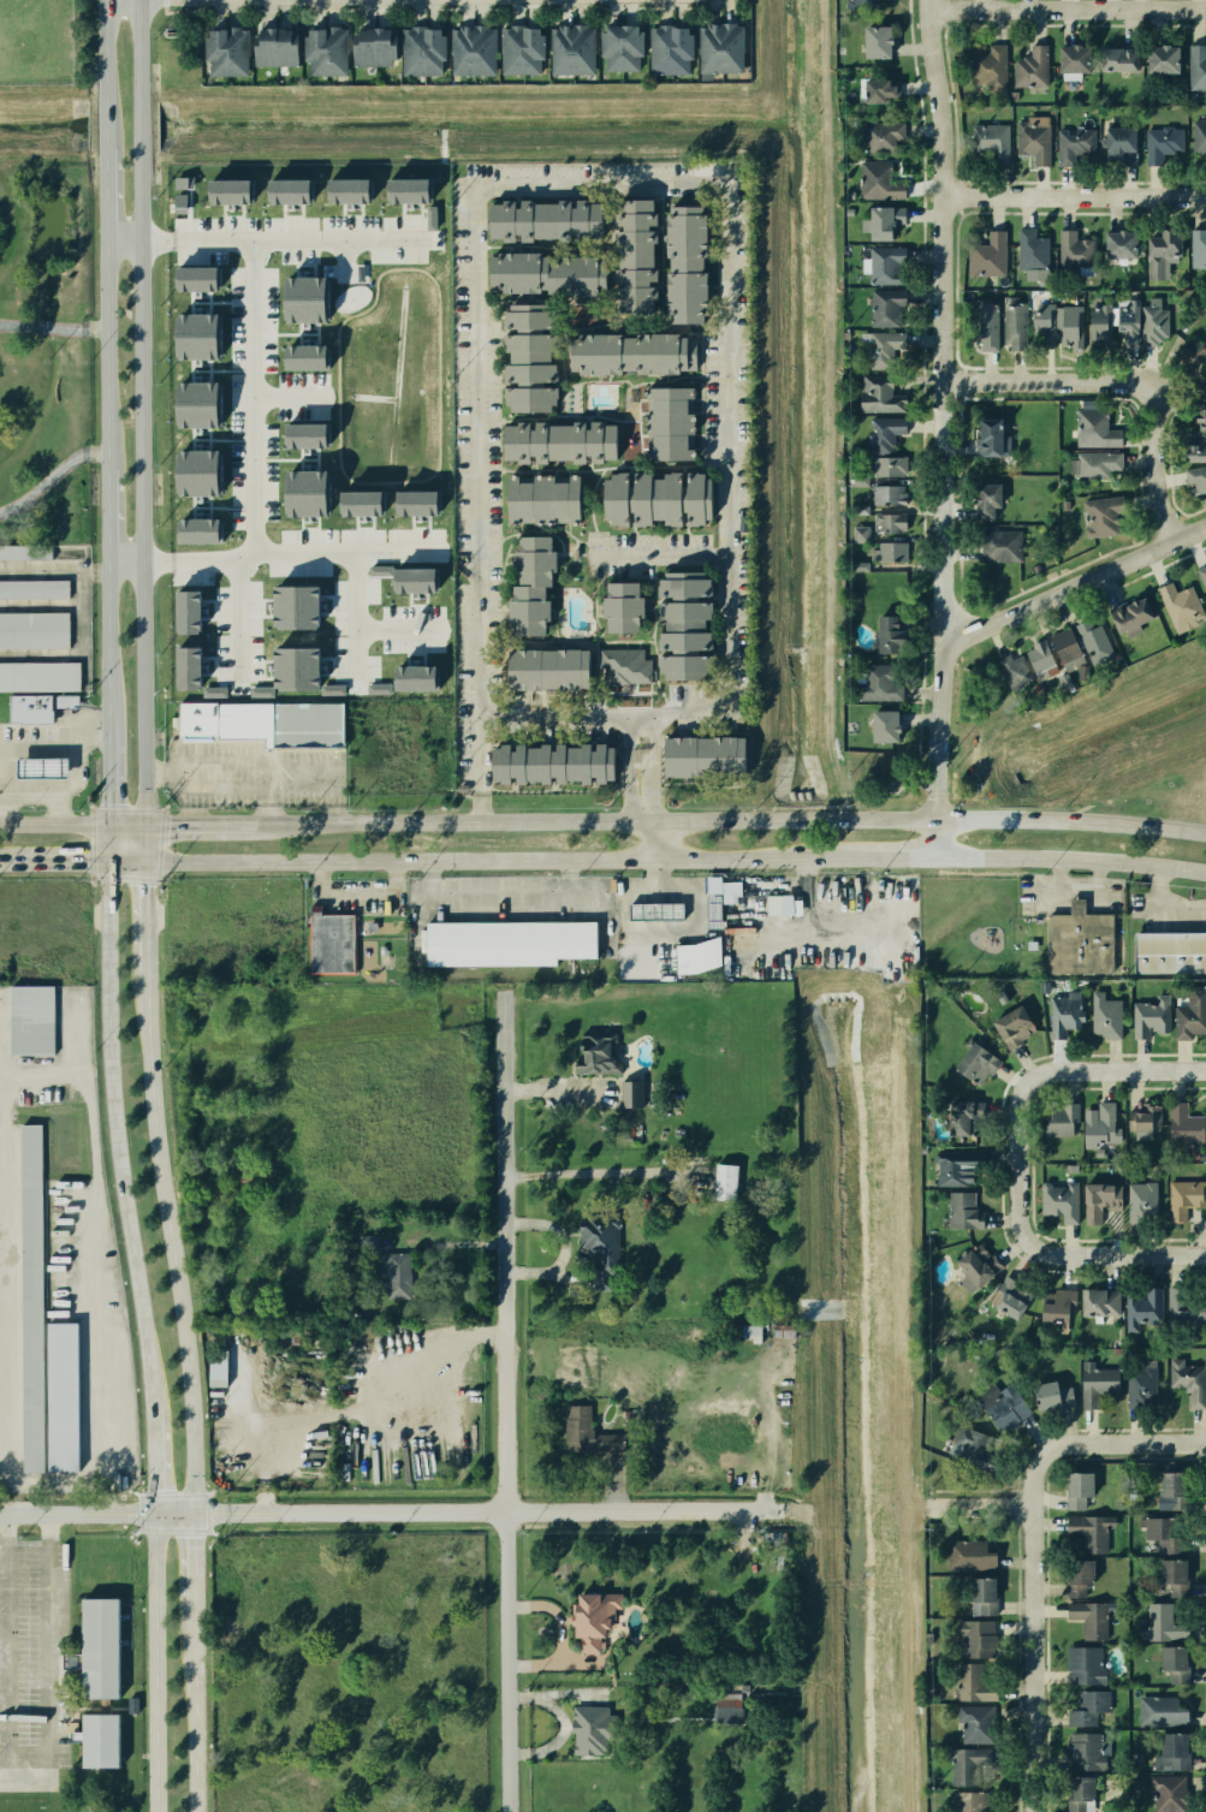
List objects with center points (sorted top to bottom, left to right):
road: (411, 0)
road: (105, 1)
road: (246, 1)
road: (338, 1)
building: (863, 4)
road: (1071, 7)
building: (874, 41)
building: (272, 46)
building: (619, 46)
building: (370, 47)
road: (139, 48)
building: (322, 48)
building: (420, 48)
building: (470, 48)
building: (667, 48)
building: (719, 48)
building: (570, 49)
road: (105, 51)
building: (221, 51)
building: (517, 51)
building: (1165, 65)
building: (1196, 65)
building: (988, 73)
building: (1035, 77)
building: (1077, 78)
building: (1123, 79)
building: (879, 87)
road: (139, 123)
road: (105, 124)
building: (880, 136)
building: (1198, 139)
building: (1038, 143)
building: (996, 144)
building: (1166, 149)
building: (1077, 150)
building: (1119, 152)
building: (874, 178)
road: (724, 183)
building: (230, 191)
building: (290, 191)
building: (349, 191)
building: (408, 191)
road: (105, 194)
road: (1077, 195)
building: (545, 216)
building: (430, 218)
building: (880, 220)
road: (123, 236)
road: (329, 240)
building: (1198, 248)
building: (1123, 250)
building: (634, 255)
building: (1076, 255)
building: (1164, 259)
building: (1032, 260)
building: (685, 262)
building: (988, 265)
building: (883, 267)
building: (545, 269)
building: (197, 279)
building: (1094, 286)
building: (304, 299)
building: (886, 307)
road: (52, 325)
building: (1100, 327)
building: (1131, 327)
building: (1047, 328)
building: (1160, 328)
building: (1074, 329)
building: (985, 331)
building: (1017, 331)
building: (197, 337)
building: (883, 347)
road: (105, 351)
building: (1192, 352)
building: (522, 354)
building: (629, 355)
building: (305, 357)
road: (1047, 381)
building: (1202, 386)
building: (881, 399)
road: (255, 400)
building: (197, 404)
road: (941, 409)
building: (1201, 420)
building: (669, 421)
building: (1099, 432)
building: (305, 435)
building: (554, 435)
building: (887, 438)
building: (990, 439)
building: (1009, 447)
building: (1194, 448)
building: (1101, 465)
road: (1154, 467)
building: (889, 470)
building: (198, 473)
road: (51, 474)
building: (861, 477)
building: (1195, 480)
road: (142, 487)
building: (305, 493)
building: (650, 497)
building: (536, 499)
building: (890, 500)
building: (361, 503)
building: (416, 503)
building: (987, 504)
road: (106, 511)
road: (1186, 513)
park: (1192, 513)
building: (1109, 519)
building: (198, 530)
building: (884, 530)
road: (388, 541)
building: (1000, 548)
building: (25, 553)
road: (661, 553)
road: (124, 556)
building: (893, 556)
road: (356, 559)
building: (380, 570)
building: (1201, 574)
building: (415, 580)
building: (529, 583)
road: (1075, 587)
building: (35, 589)
building: (1178, 602)
building: (620, 606)
building: (297, 607)
building: (190, 612)
building: (1127, 612)
road: (237, 614)
building: (683, 624)
building: (35, 630)
building: (881, 630)
road: (106, 637)
building: (1092, 637)
building: (1063, 648)
building: (623, 663)
building: (1042, 663)
building: (547, 665)
building: (1012, 667)
building: (190, 669)
building: (297, 669)
building: (41, 677)
building: (415, 677)
building: (874, 681)
building: (67, 701)
building: (28, 707)
building: (1, 708)
building: (192, 720)
building: (305, 724)
building: (879, 724)
road: (16, 744)
building: (699, 753)
building: (548, 759)
gas station: (36, 766)
building: (43, 767)
road: (477, 771)
road: (106, 772)
road: (647, 772)
road: (75, 773)
road: (221, 786)
road: (1137, 788)
road: (47, 794)
road: (928, 819)
road: (72, 826)
traffic signals: (106, 826)
traffic signals: (144, 826)
road: (197, 826)
road: (451, 826)
road: (935, 838)
road: (144, 844)
road: (652, 845)
road: (1070, 859)
road: (896, 860)
road: (61, 863)
traffic signals: (107, 863)
traffic signals: (144, 863)
road: (7, 865)
road: (481, 865)
road: (357, 890)
road: (499, 892)
building: (783, 905)
building: (650, 909)
building: (709, 911)
road: (144, 926)
building: (1075, 938)
building: (503, 943)
building: (329, 944)
building: (1166, 953)
building: (696, 958)
building: (1190, 1012)
building: (1104, 1015)
building: (1149, 1015)
building: (1063, 1016)
building: (31, 1021)
building: (1010, 1026)
building: (593, 1042)
building: (972, 1063)
road: (1079, 1068)
building: (629, 1093)
building: (1143, 1117)
road: (112, 1118)
building: (952, 1119)
building: (1057, 1119)
building: (1098, 1121)
building: (1183, 1124)
building: (953, 1171)
building: (242, 1174)
building: (719, 1182)
building: (1186, 1198)
building: (1058, 1202)
building: (1140, 1204)
building: (1103, 1206)
building: (960, 1211)
building: (369, 1243)
road: (171, 1250)
building: (599, 1252)
road: (1077, 1253)
building: (976, 1263)
building: (412, 1271)
building: (1006, 1296)
building: (1182, 1299)
building: (1056, 1306)
building: (1143, 1307)
building: (1098, 1308)
road: (102, 1325)
building: (748, 1332)
building: (41, 1338)
building: (218, 1368)
building: (1184, 1379)
building: (1094, 1382)
building: (1139, 1382)
building: (1047, 1395)
road: (512, 1404)
building: (1002, 1408)
building: (588, 1432)
building: (968, 1442)
road: (1100, 1443)
road: (152, 1461)
building: (1174, 1485)
building: (1077, 1490)
road: (13, 1498)
road: (988, 1504)
road: (488, 1510)
road: (95, 1514)
traffic signals: (154, 1514)
traffic signals: (191, 1514)
building: (1088, 1531)
building: (1163, 1533)
building: (773, 1539)
building: (969, 1556)
road: (191, 1568)
building: (1074, 1576)
building: (1174, 1576)
building: (982, 1597)
building: (593, 1617)
building: (1089, 1618)
building: (1164, 1618)
building: (981, 1636)
building: (95, 1647)
road: (1040, 1658)
building: (1170, 1659)
parking lot: (34, 1663)
road: (154, 1663)
building: (1083, 1663)
building: (980, 1674)
building: (1087, 1706)
building: (726, 1709)
building: (1160, 1712)
road: (192, 1717)
building: (979, 1721)
building: (590, 1729)
building: (97, 1740)
building: (1082, 1749)
building: (1171, 1751)
road: (29, 1759)
building: (967, 1764)
building: (1168, 1793)
building: (1080, 1794)
building: (970, 1800)

